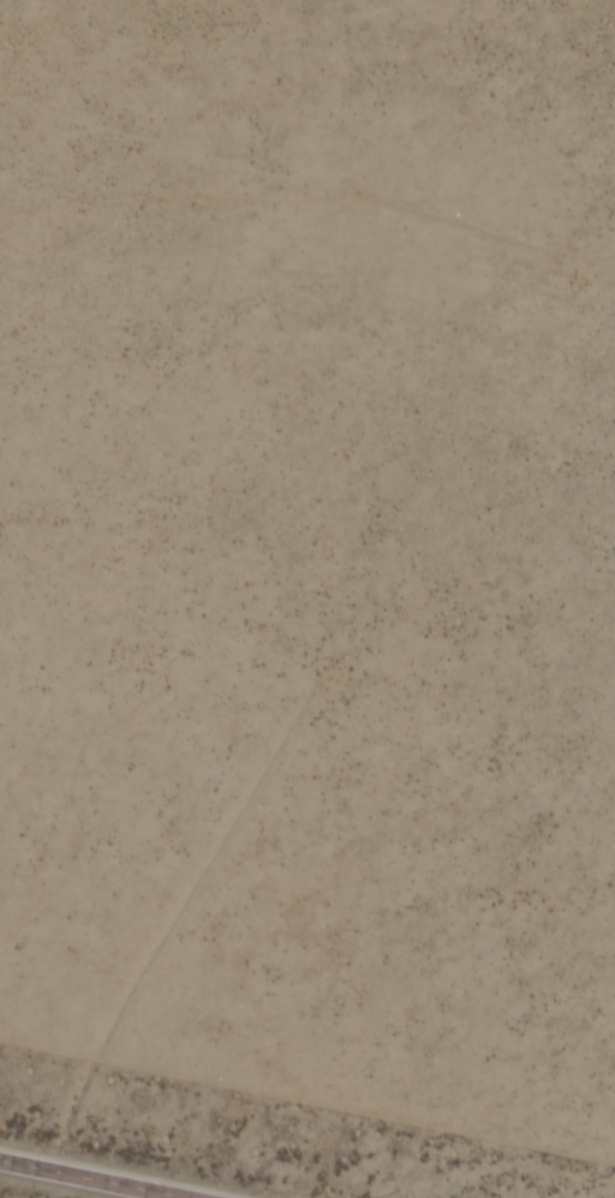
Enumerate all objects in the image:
road: (89, 1179)

